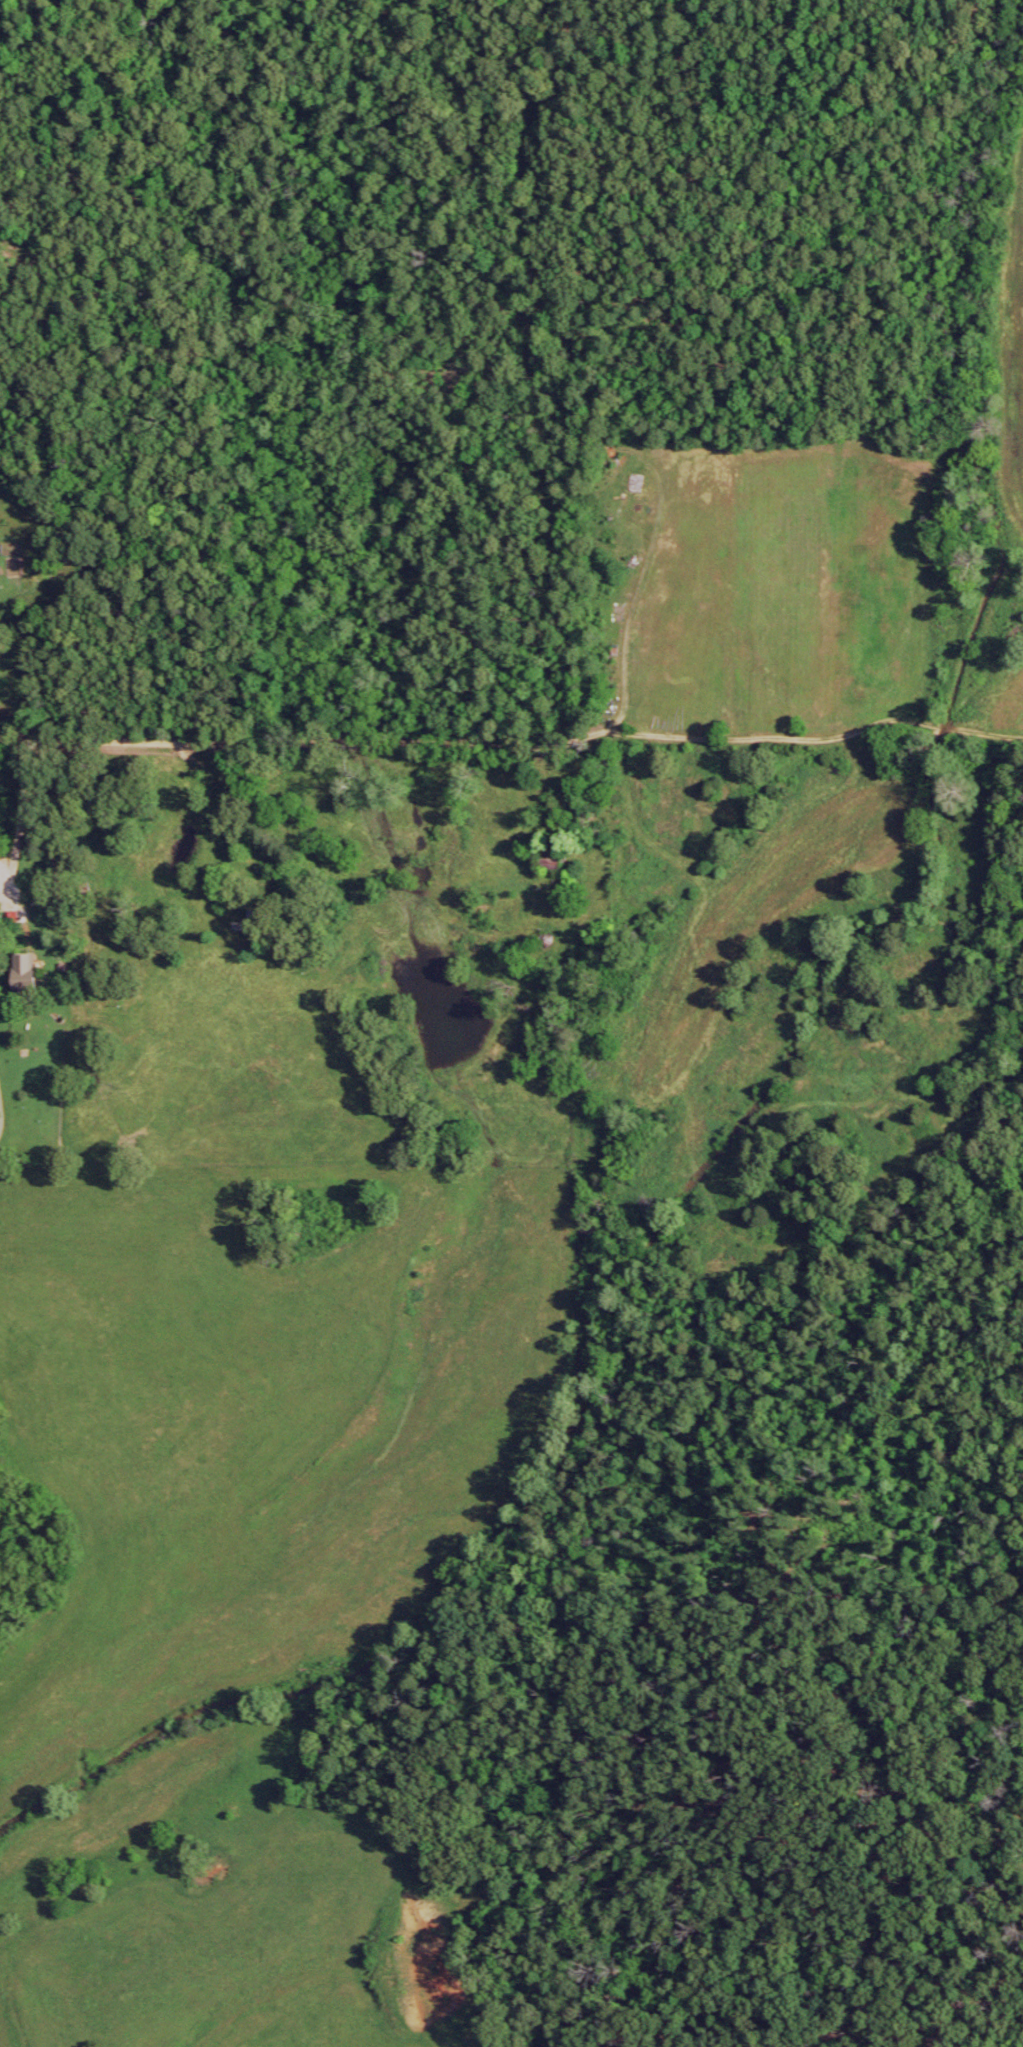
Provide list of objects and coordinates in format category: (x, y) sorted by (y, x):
road: (279, 787)
building: (551, 869)
road: (725, 892)
building: (233, 940)
building: (25, 980)
road: (449, 1295)

